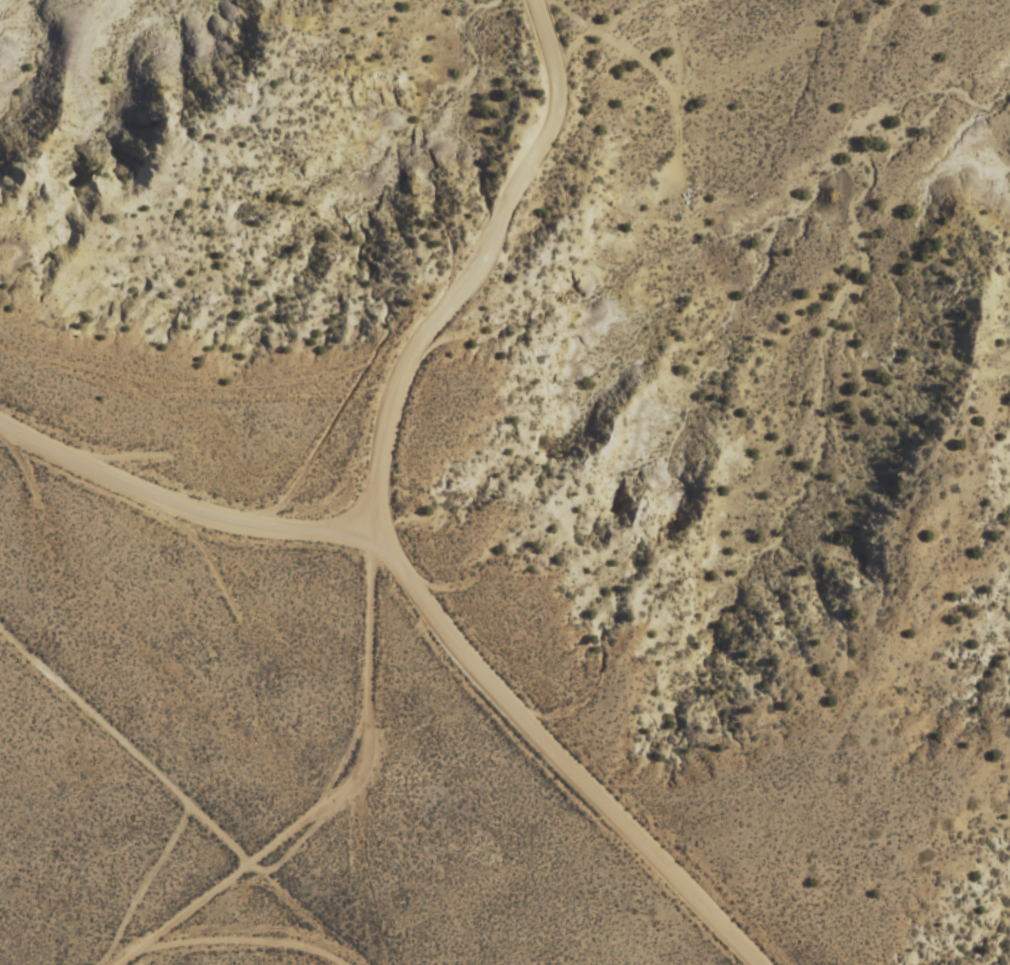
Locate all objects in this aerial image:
road: (177, 504)
road: (372, 527)

